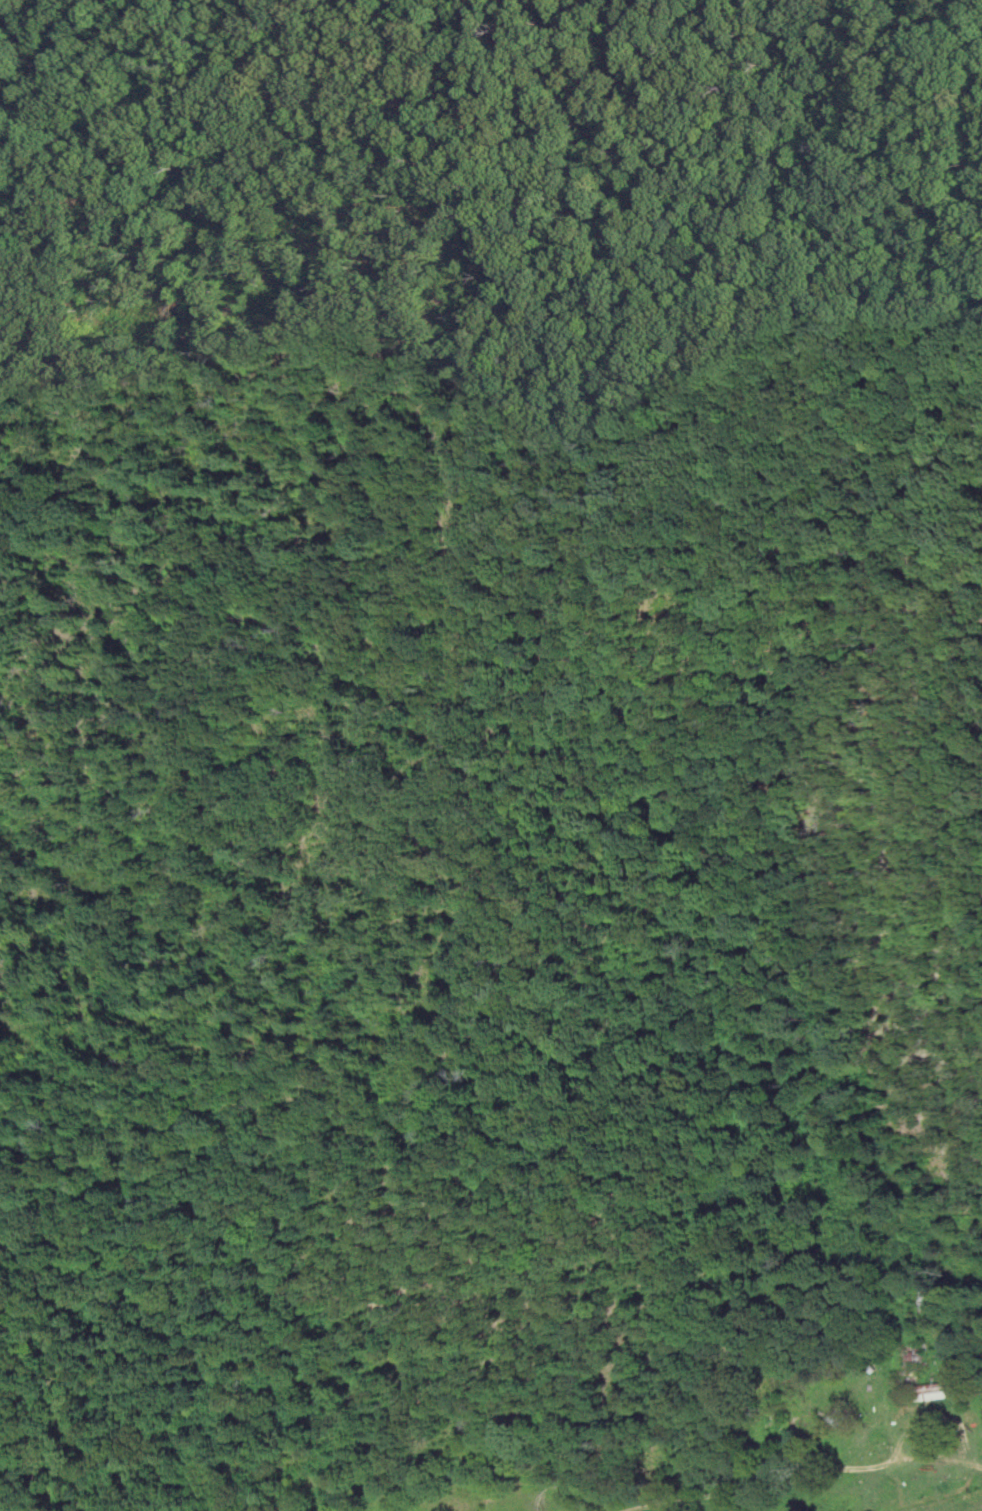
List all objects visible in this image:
road: (803, 1482)

